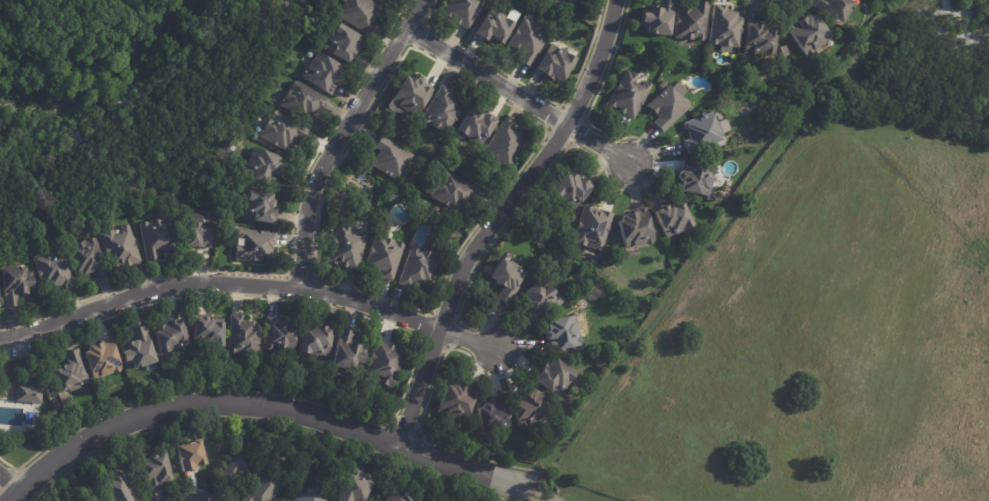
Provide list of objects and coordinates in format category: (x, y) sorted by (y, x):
building: (574, 0)
building: (831, 8)
building: (462, 11)
building: (356, 13)
building: (656, 18)
building: (690, 21)
park: (52, 27)
building: (490, 28)
building: (724, 29)
building: (806, 33)
building: (758, 41)
building: (526, 42)
building: (339, 43)
building: (553, 63)
building: (320, 74)
road: (486, 79)
building: (627, 95)
building: (408, 96)
building: (301, 100)
building: (665, 107)
building: (786, 107)
building: (440, 110)
building: (473, 127)
building: (280, 131)
building: (702, 132)
building: (399, 134)
road: (341, 137)
road: (165, 141)
building: (504, 145)
road: (600, 146)
building: (389, 158)
building: (712, 160)
building: (260, 167)
building: (694, 178)
building: (570, 190)
building: (451, 191)
building: (392, 195)
building: (261, 208)
road: (494, 215)
building: (674, 220)
building: (592, 228)
building: (635, 229)
building: (200, 230)
building: (565, 232)
road: (708, 236)
building: (158, 238)
building: (345, 246)
building: (256, 247)
building: (123, 249)
building: (383, 256)
building: (89, 259)
building: (417, 269)
building: (54, 271)
building: (505, 279)
road: (216, 284)
building: (16, 285)
building: (539, 300)
building: (210, 332)
building: (560, 333)
building: (281, 334)
building: (171, 336)
building: (244, 337)
building: (317, 340)
road: (467, 340)
building: (141, 349)
building: (348, 352)
building: (102, 359)
building: (387, 361)
building: (72, 372)
building: (555, 377)
building: (29, 394)
building: (454, 402)
road: (263, 406)
building: (526, 408)
building: (489, 413)
building: (188, 454)
building: (298, 460)
building: (239, 464)
building: (152, 469)
road: (7, 484)
building: (262, 487)
building: (353, 488)
building: (116, 489)
building: (306, 495)
road: (548, 495)
building: (393, 496)
building: (95, 500)

